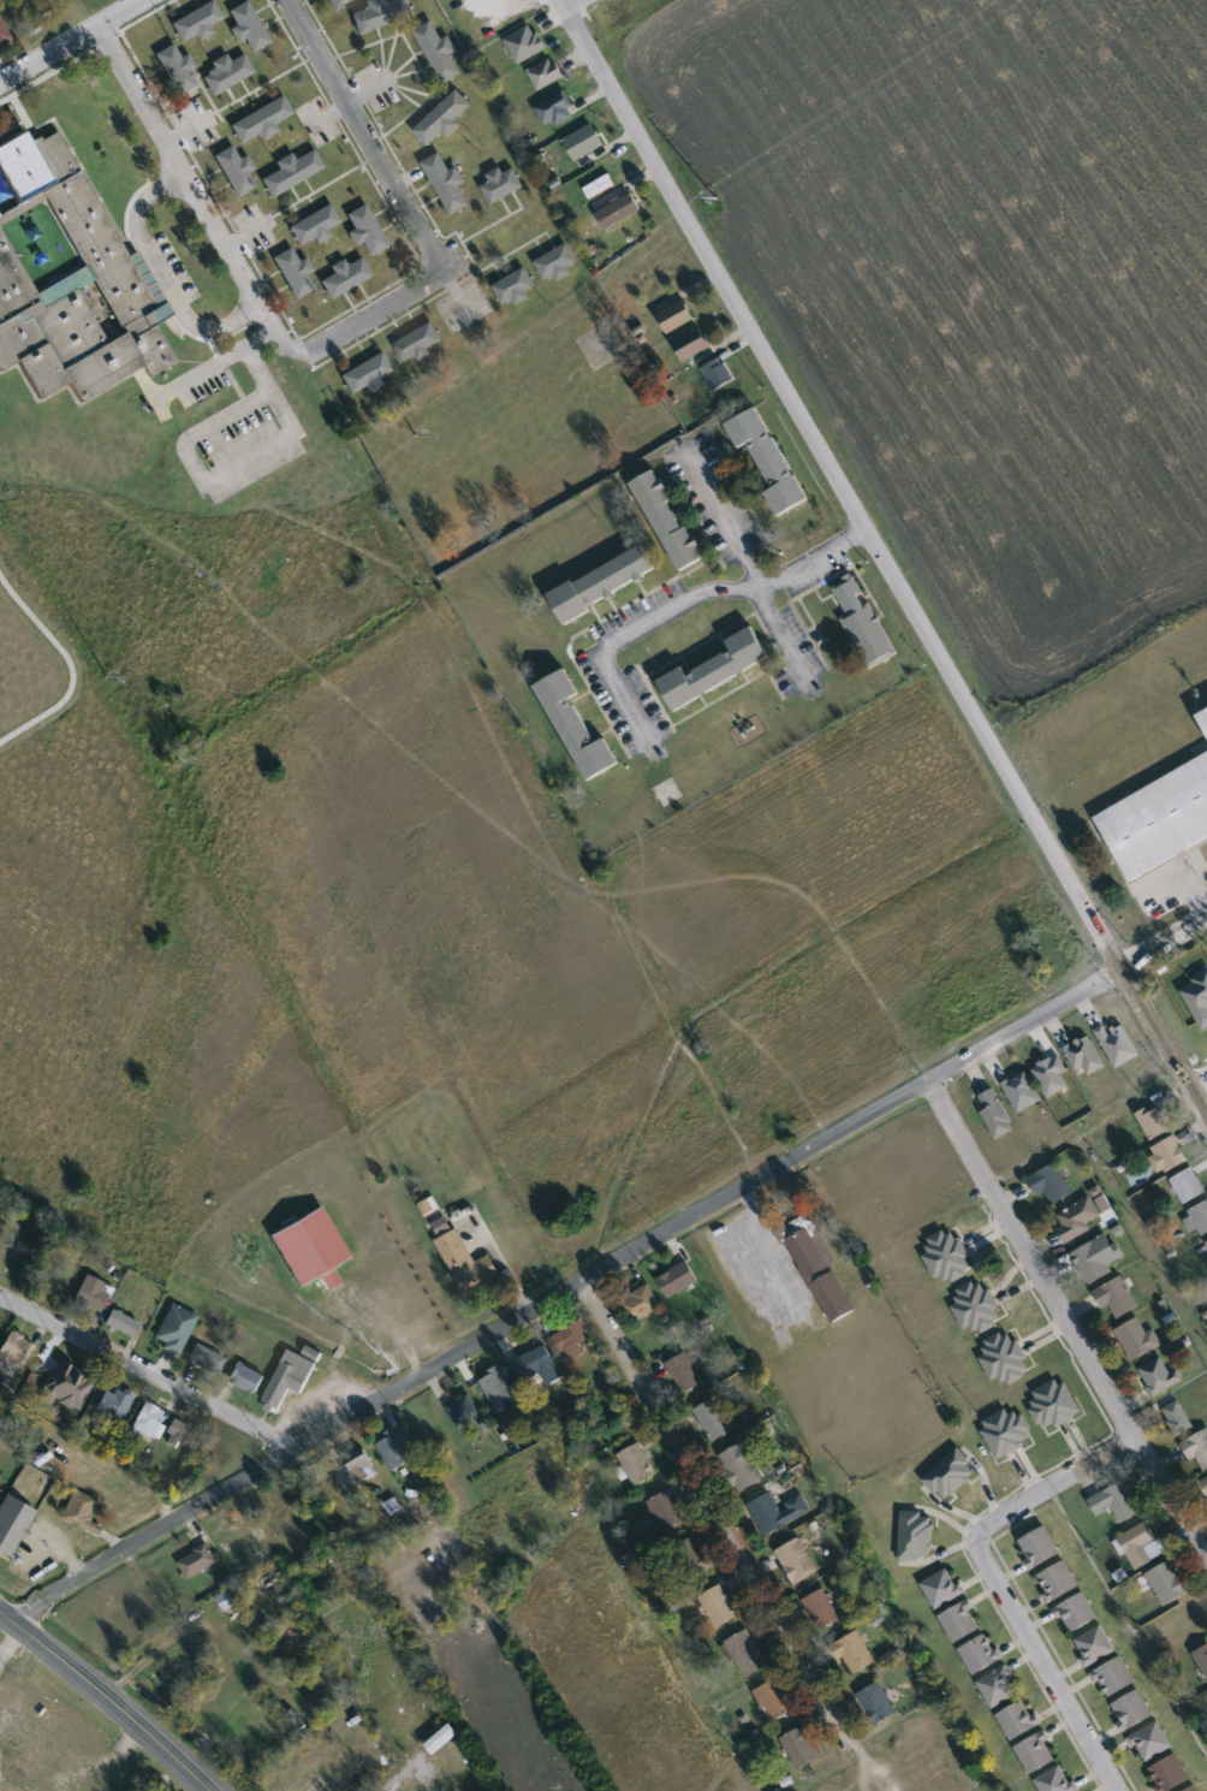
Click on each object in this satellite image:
building: (88, 0)
building: (338, 4)
building: (383, 14)
building: (196, 23)
building: (248, 26)
building: (4, 35)
road: (70, 40)
building: (527, 45)
building: (439, 52)
building: (177, 71)
road: (43, 72)
building: (226, 73)
building: (547, 77)
building: (554, 108)
building: (442, 119)
building: (260, 121)
building: (585, 144)
building: (236, 171)
building: (291, 172)
building: (447, 184)
building: (501, 185)
power tower: (717, 200)
building: (619, 213)
building: (314, 226)
building: (365, 231)
road: (138, 236)
building: (558, 263)
building: (293, 273)
building: (345, 277)
building: (71, 279)
building: (516, 289)
building: (677, 318)
road: (220, 324)
road: (340, 336)
building: (418, 344)
building: (692, 345)
road: (215, 361)
building: (719, 374)
building: (367, 375)
parking lot: (196, 380)
power tower: (414, 437)
parking lot: (238, 441)
building: (768, 461)
road: (224, 468)
building: (668, 522)
road: (726, 522)
road: (882, 559)
building: (603, 585)
road: (774, 586)
building: (863, 623)
road: (628, 634)
park: (31, 652)
road: (70, 663)
building: (717, 670)
power tower: (102, 672)
building: (1203, 719)
building: (576, 729)
building: (1158, 820)
road: (1161, 938)
building: (1118, 1045)
building: (1083, 1056)
road: (1197, 1081)
building: (1022, 1093)
building: (995, 1114)
building: (1153, 1122)
building: (1167, 1156)
building: (1051, 1184)
building: (1188, 1187)
building: (1200, 1217)
building: (1078, 1221)
building: (309, 1247)
building: (10, 1257)
building: (949, 1257)
building: (464, 1259)
building: (1096, 1259)
road: (1031, 1261)
building: (817, 1270)
building: (678, 1281)
road: (561, 1291)
building: (91, 1294)
building: (1117, 1298)
building: (641, 1304)
building: (976, 1307)
building: (121, 1324)
road: (766, 1324)
building: (174, 1329)
building: (1137, 1340)
building: (571, 1341)
building: (12, 1353)
building: (206, 1359)
building: (1004, 1359)
building: (536, 1366)
road: (148, 1372)
building: (684, 1372)
building: (1158, 1376)
building: (246, 1378)
building: (290, 1378)
building: (497, 1388)
building: (112, 1405)
building: (1054, 1405)
building: (463, 1410)
building: (1177, 1418)
building: (715, 1419)
building: (145, 1422)
building: (176, 1430)
building: (1006, 1433)
building: (396, 1449)
building: (1199, 1451)
building: (637, 1465)
building: (362, 1467)
building: (742, 1467)
building: (950, 1476)
building: (1205, 1485)
road: (1046, 1491)
road: (1172, 1500)
road: (706, 1502)
building: (1116, 1502)
building: (79, 1512)
building: (778, 1512)
building: (666, 1513)
building: (12, 1525)
building: (916, 1537)
building: (1141, 1544)
building: (1039, 1548)
building: (692, 1559)
building: (797, 1561)
building: (198, 1562)
building: (1057, 1582)
building: (1166, 1584)
building: (943, 1589)
building: (719, 1608)
building: (821, 1611)
building: (1077, 1613)
building: (961, 1623)
road: (11, 1644)
building: (1095, 1647)
building: (854, 1654)
building: (747, 1655)
building: (980, 1655)
building: (1201, 1660)
building: (184, 1667)
road: (1046, 1673)
building: (1114, 1679)
building: (998, 1688)
road: (105, 1698)
building: (773, 1701)
building: (878, 1704)
building: (1131, 1710)
building: (1017, 1721)
building: (1152, 1743)
building: (801, 1749)
building: (1036, 1754)
building: (1170, 1774)
building: (1056, 1781)
building: (1187, 1789)

